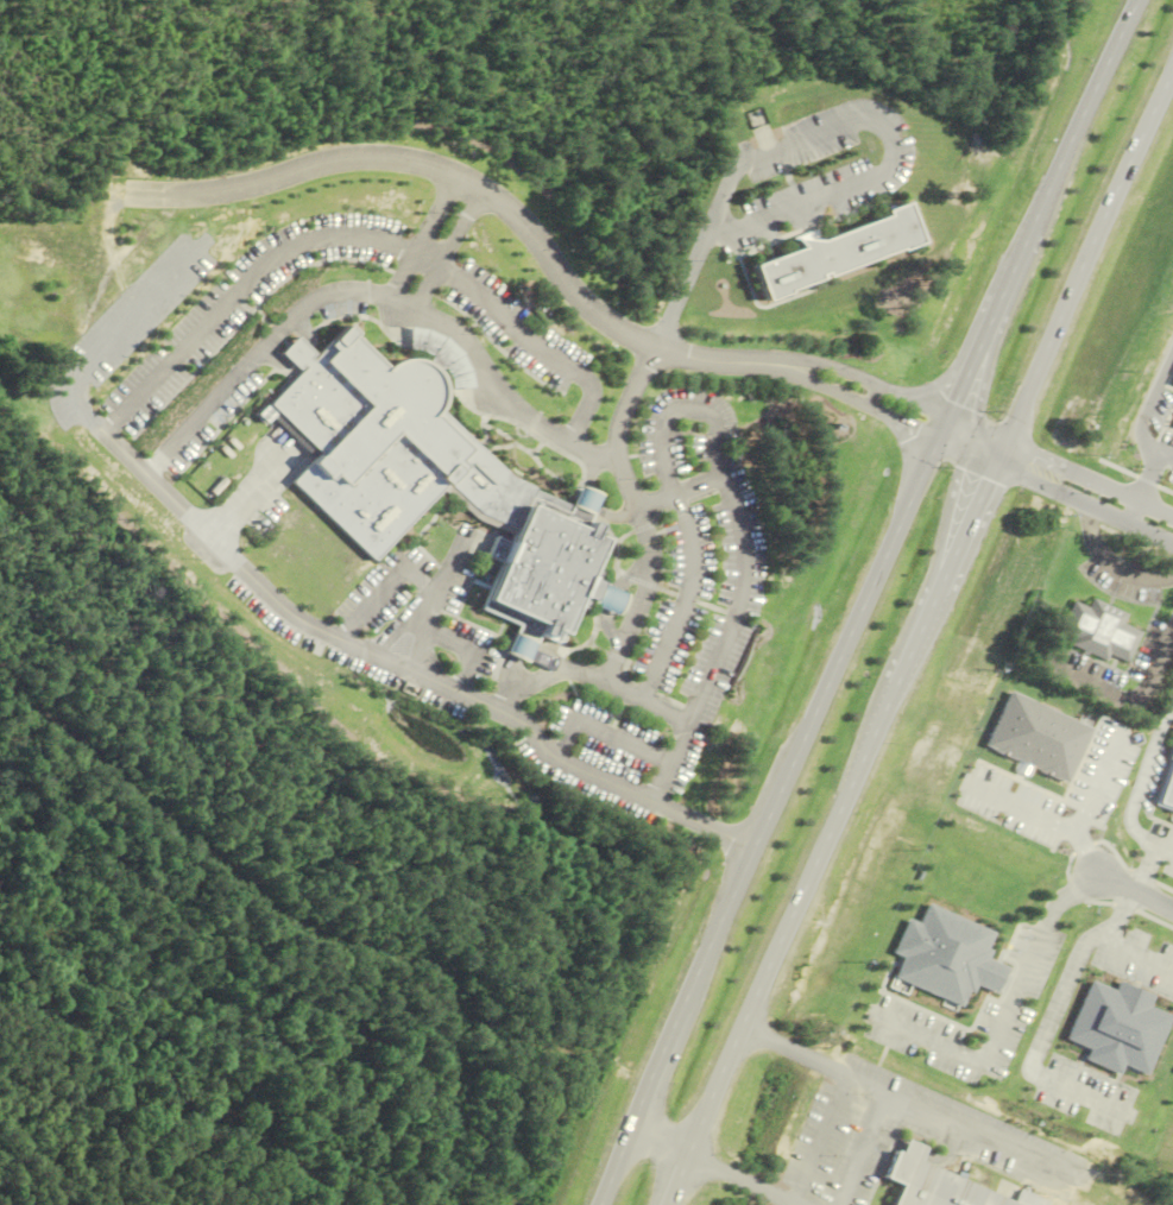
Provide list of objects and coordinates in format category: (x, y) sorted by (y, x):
road: (1076, 128)
building: (761, 130)
road: (885, 134)
road: (471, 185)
road: (422, 239)
building: (835, 251)
road: (447, 252)
road: (1087, 255)
road: (404, 308)
road: (977, 348)
building: (1169, 379)
road: (884, 387)
road: (849, 396)
road: (506, 399)
traffic signals: (954, 400)
road: (676, 406)
building: (1169, 423)
traffic signals: (917, 429)
building: (372, 439)
road: (617, 449)
traffic signals: (1032, 455)
road: (1149, 474)
traffic signals: (989, 479)
road: (1087, 480)
road: (679, 491)
road: (1054, 492)
building: (586, 499)
road: (1133, 513)
road: (967, 524)
building: (530, 549)
road: (1109, 564)
building: (607, 598)
building: (1098, 629)
road: (730, 643)
building: (519, 648)
road: (648, 705)
road: (811, 720)
road: (1046, 821)
road: (704, 826)
road: (808, 882)
road: (1135, 895)
road: (1134, 953)
building: (947, 955)
road: (1009, 1004)
road: (1049, 1015)
road: (655, 1067)
road: (846, 1085)
road: (954, 1118)
road: (712, 1167)
road: (612, 1168)
road: (675, 1181)
building: (934, 1186)

